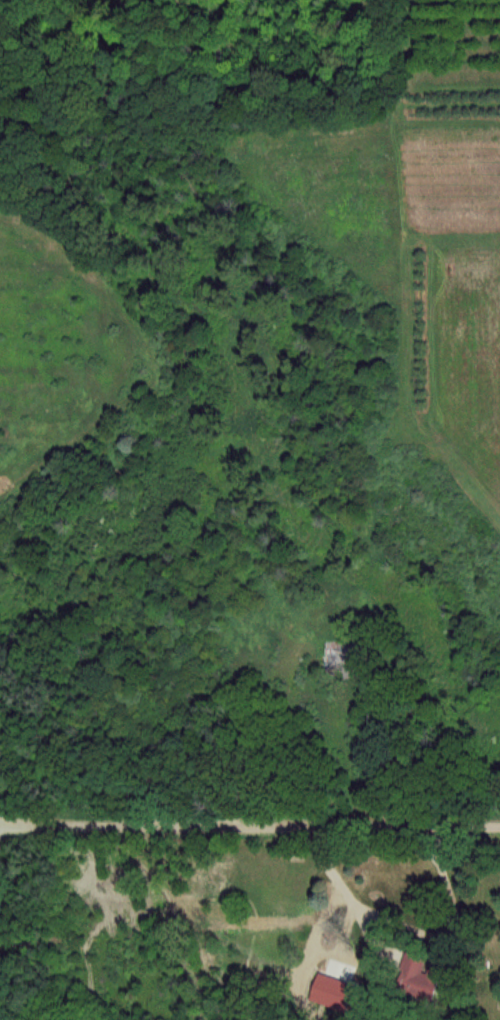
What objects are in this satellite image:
building: (355, 658)
road: (249, 828)
road: (410, 926)
building: (421, 974)

